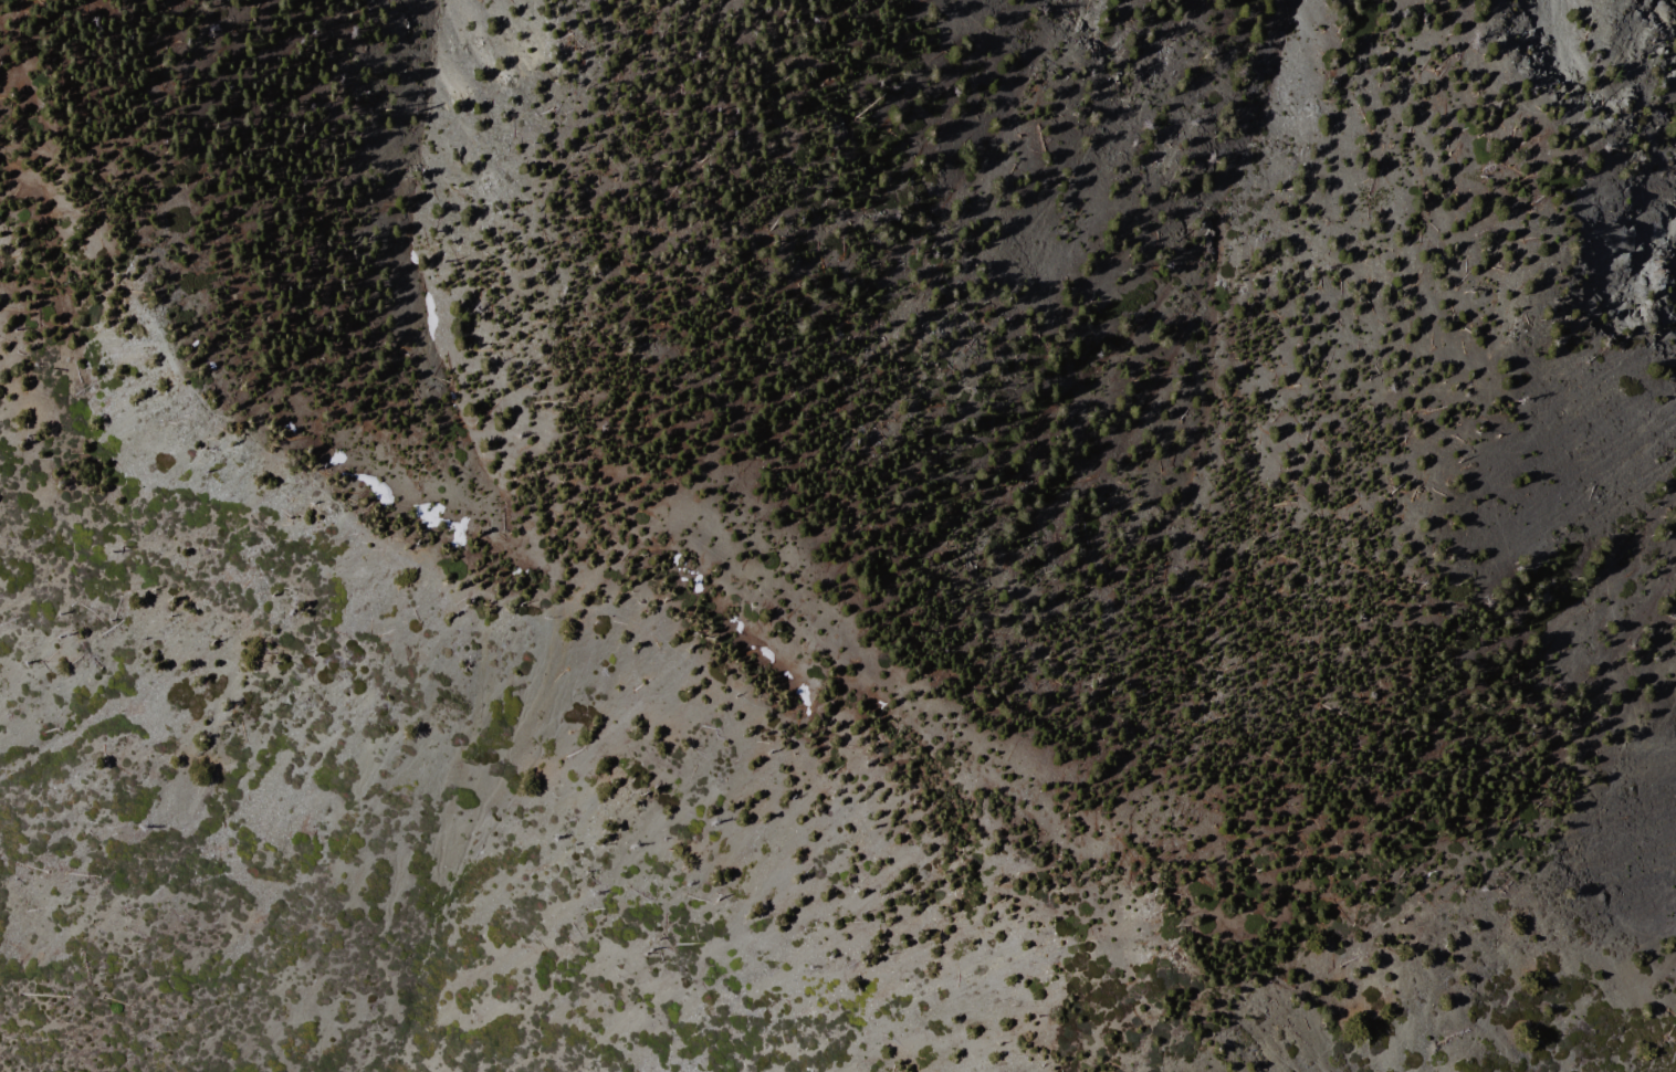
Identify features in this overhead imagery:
road: (710, 549)
road: (494, 606)
road: (1077, 898)

